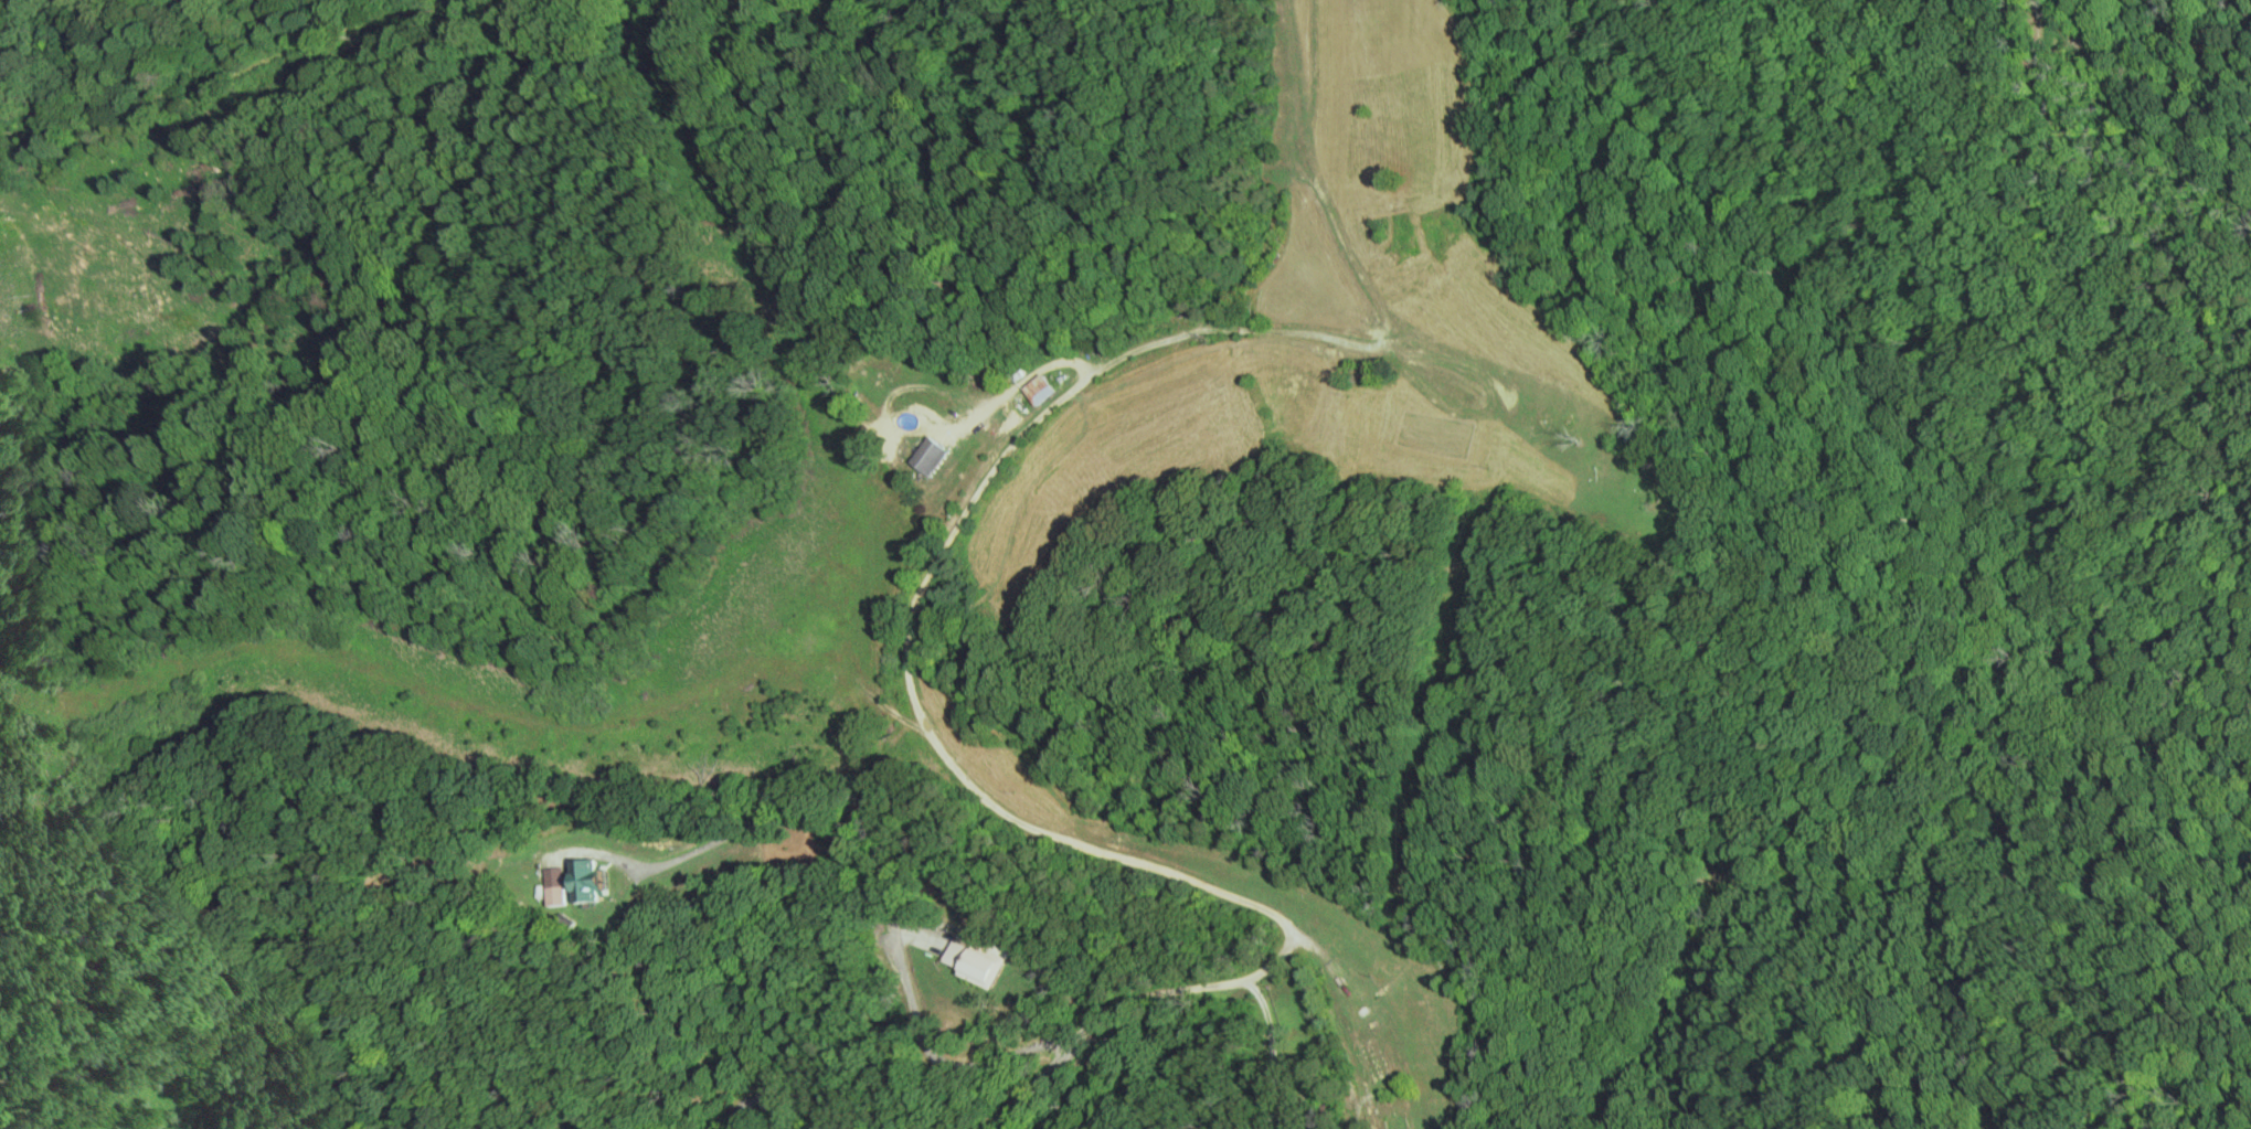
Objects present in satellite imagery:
building: (1048, 391)
road: (1022, 437)
building: (939, 457)
building: (596, 881)
building: (562, 896)
building: (983, 962)
road: (1127, 1001)
building: (1382, 1061)
road: (761, 1098)

